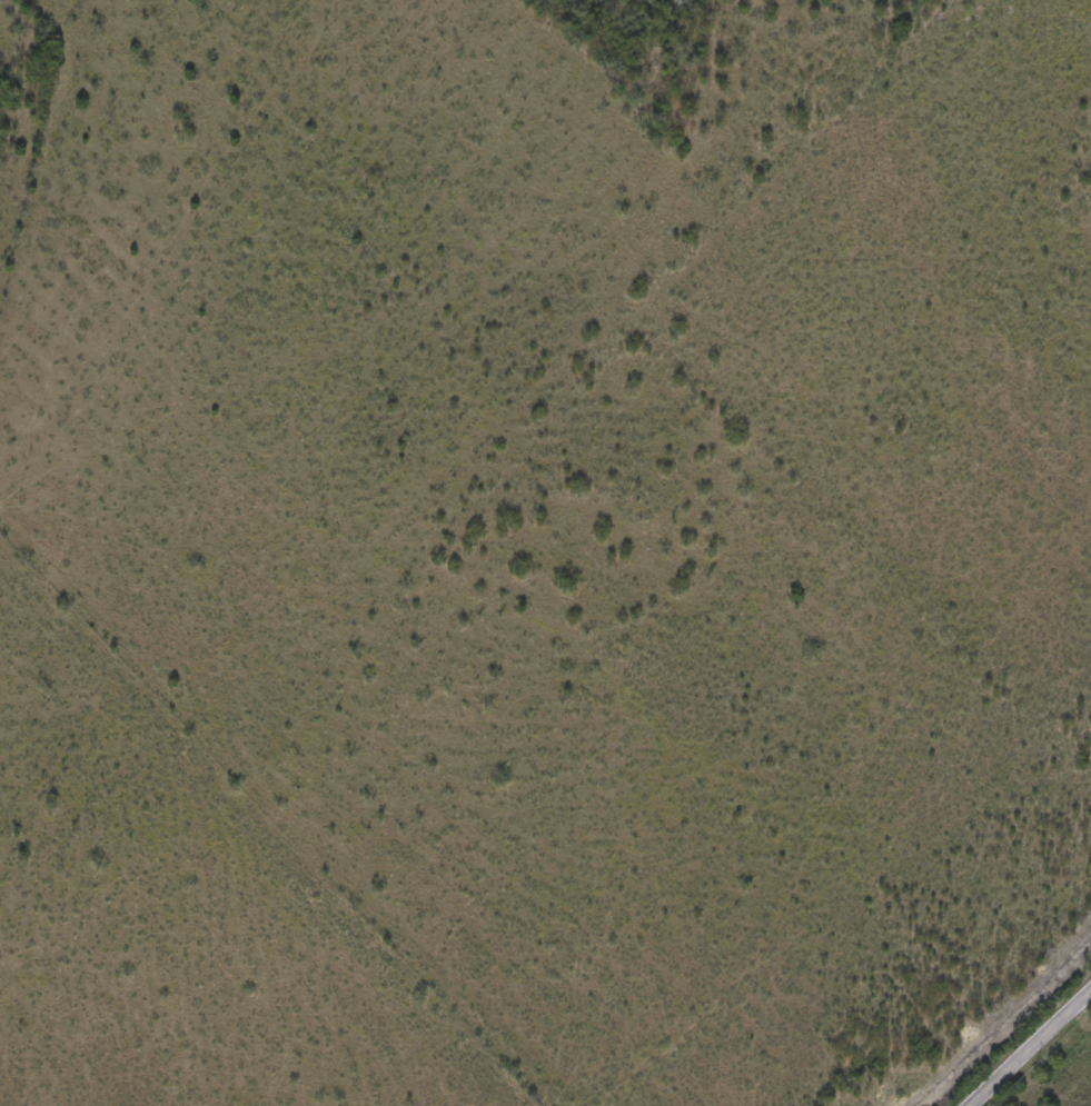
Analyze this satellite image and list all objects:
road: (1026, 1046)

